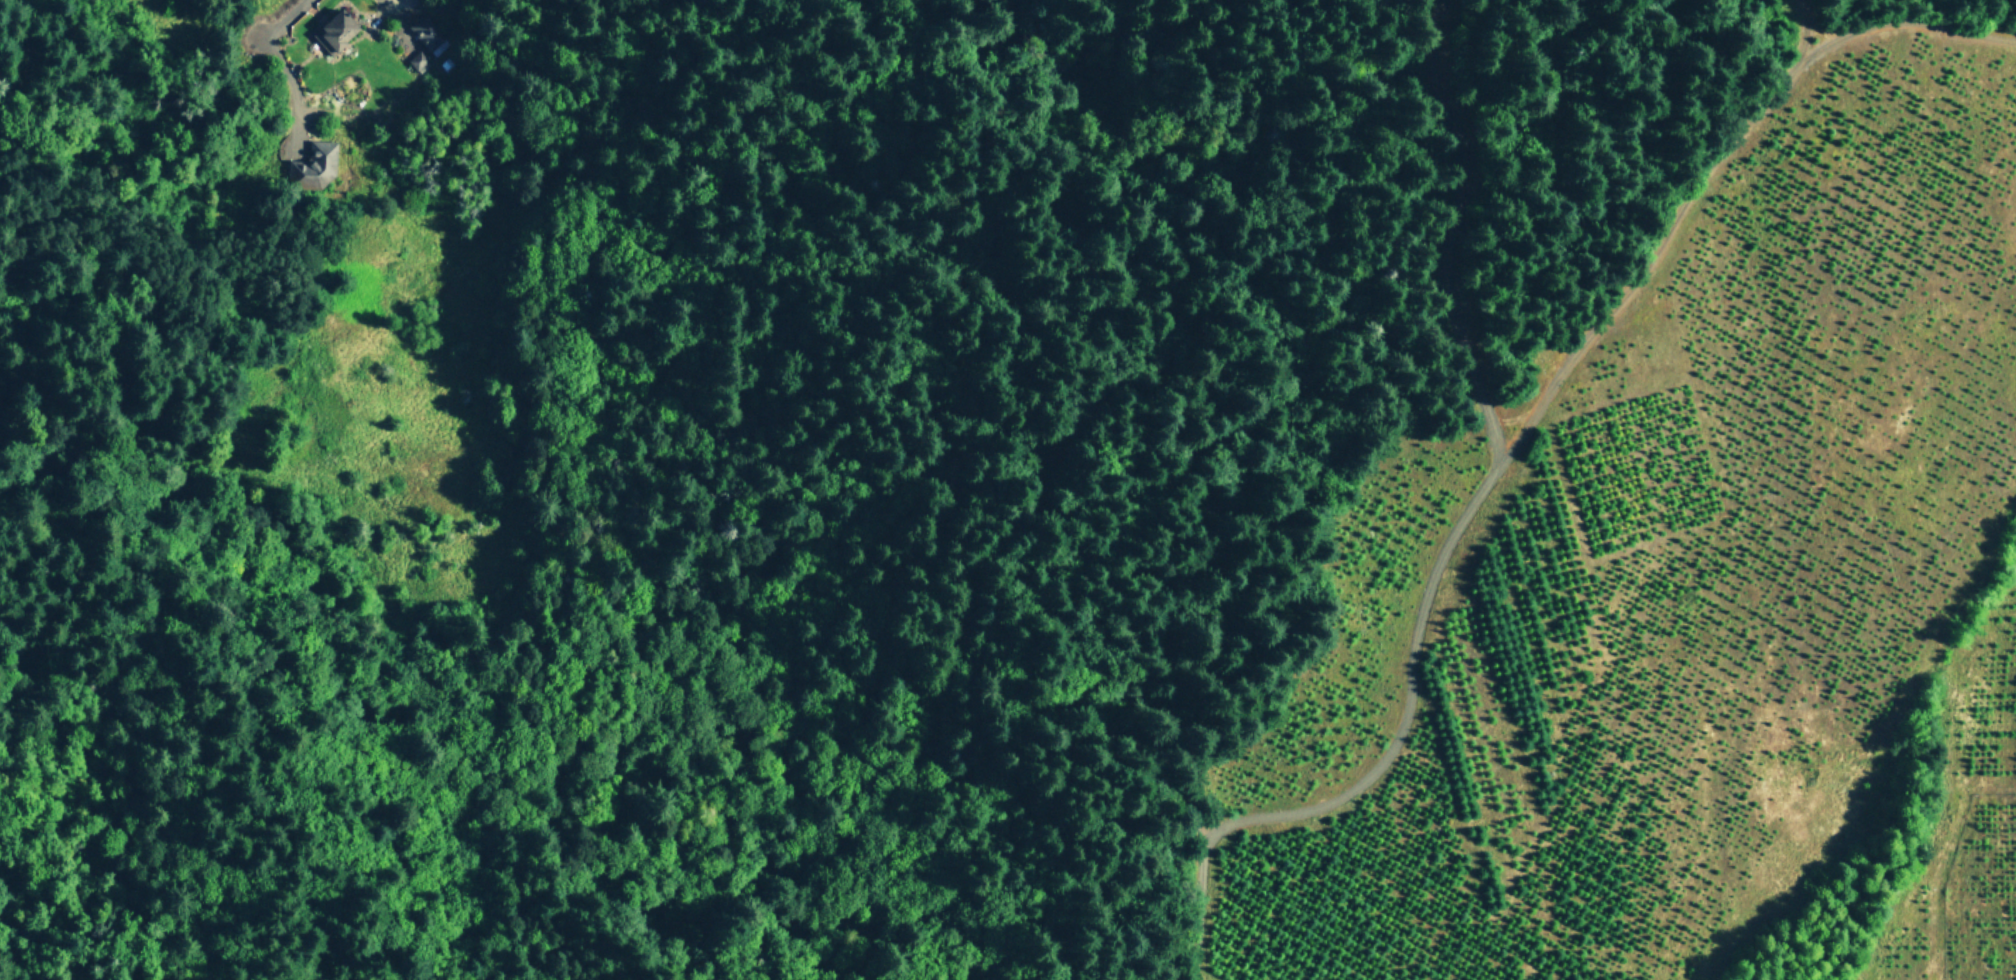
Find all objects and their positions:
road: (280, 19)
road: (1195, 280)
road: (1550, 384)
road: (787, 709)

